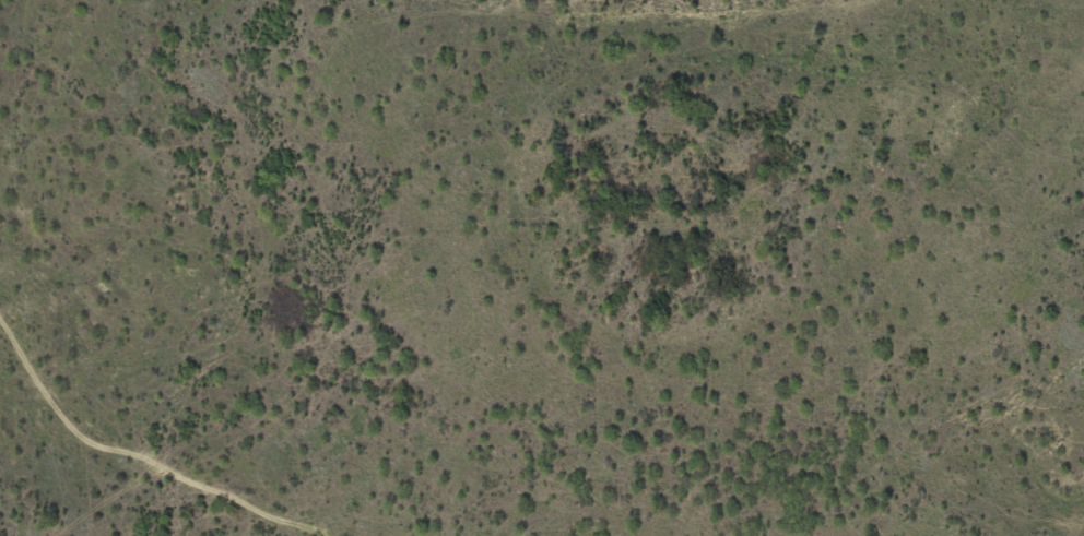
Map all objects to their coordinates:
road: (95, 492)

